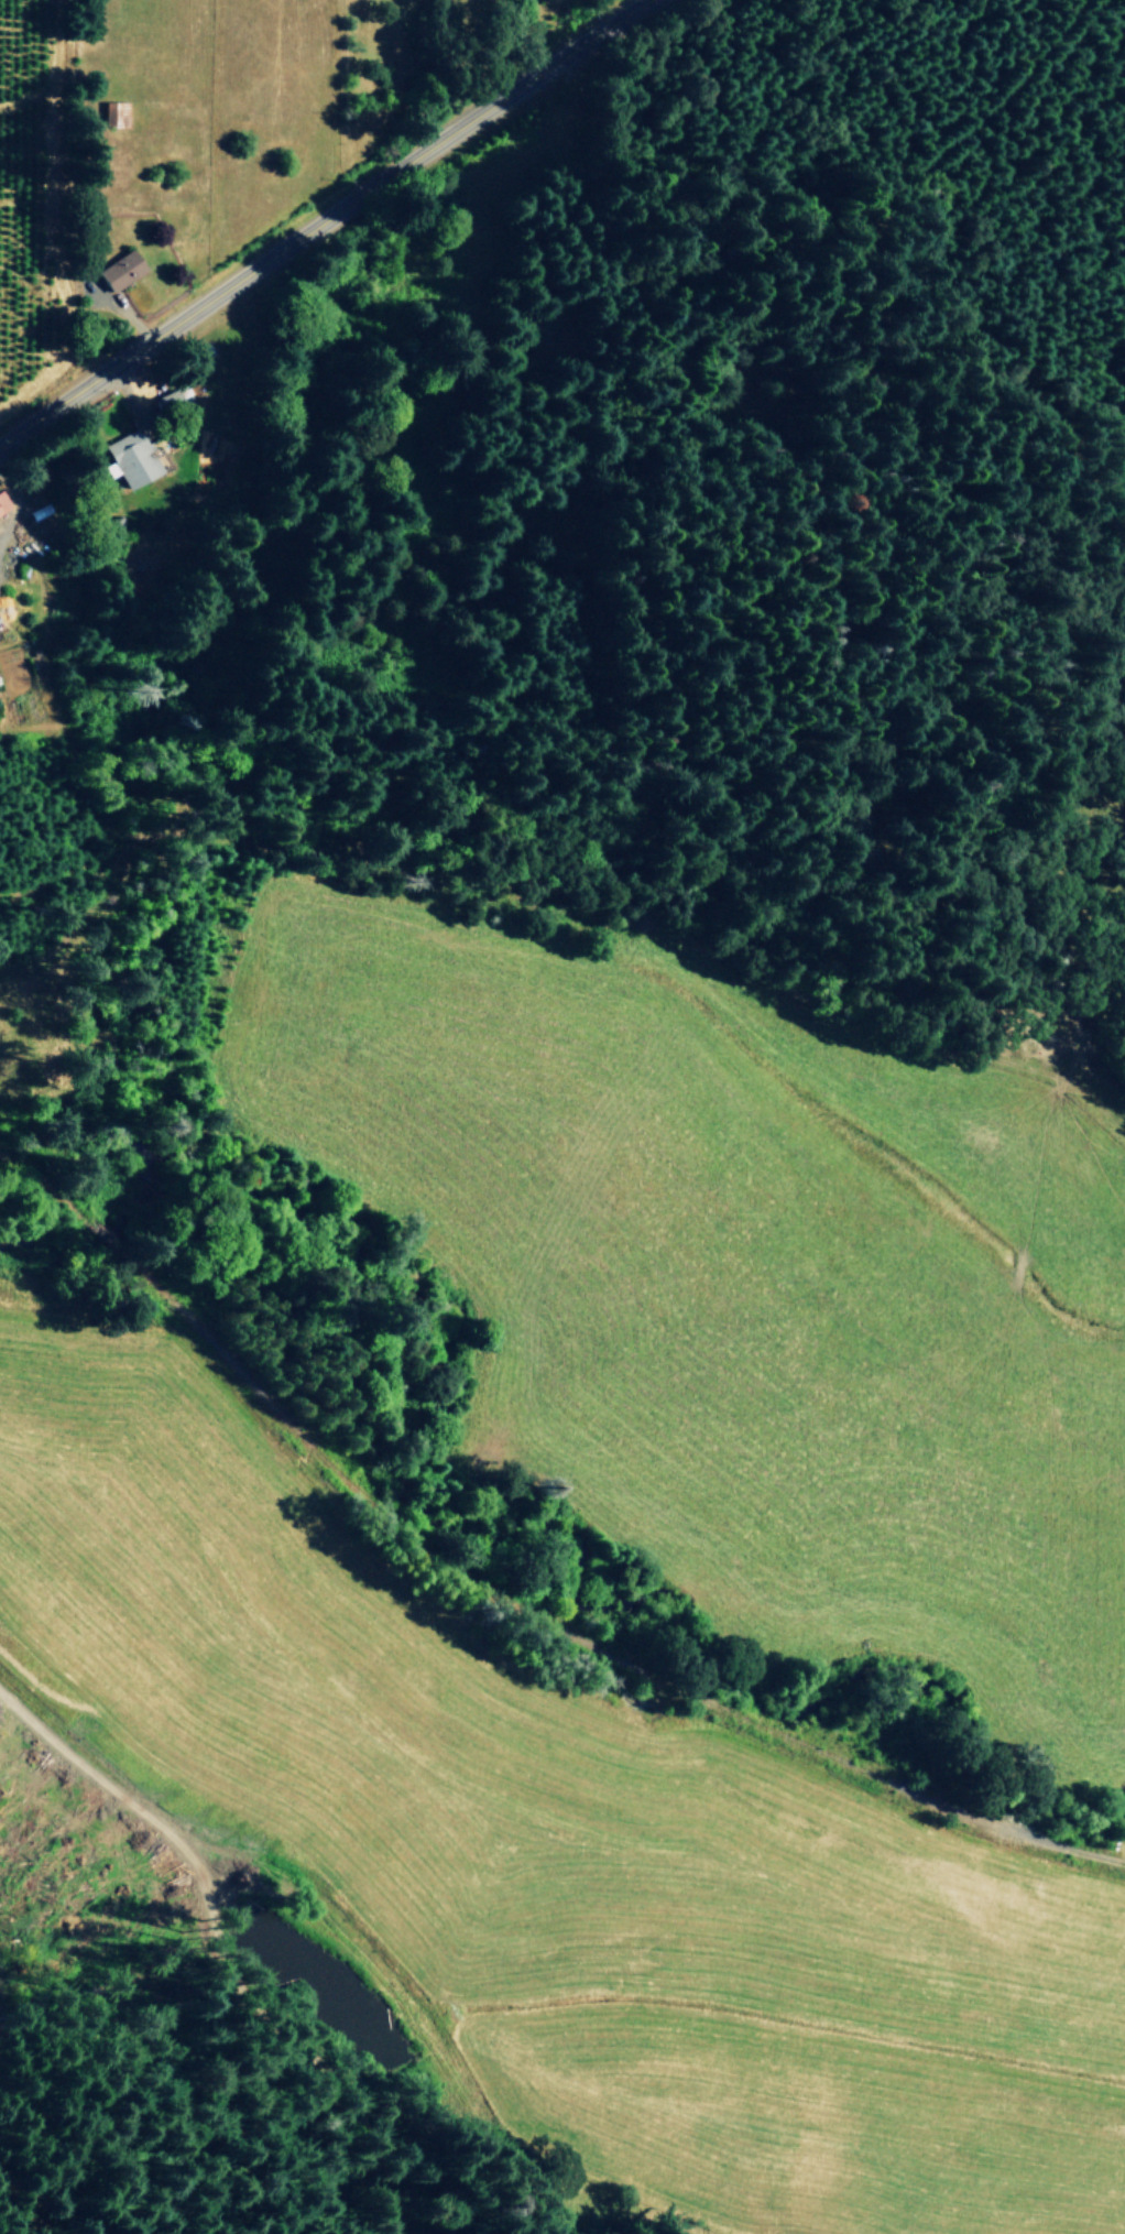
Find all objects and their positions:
crop: (221, 200)
road: (324, 220)
building: (121, 270)
building: (165, 397)
building: (133, 458)
building: (3, 504)
railway: (9, 1160)
railway: (76, 1212)
crop: (730, 1289)
railway: (578, 1638)

